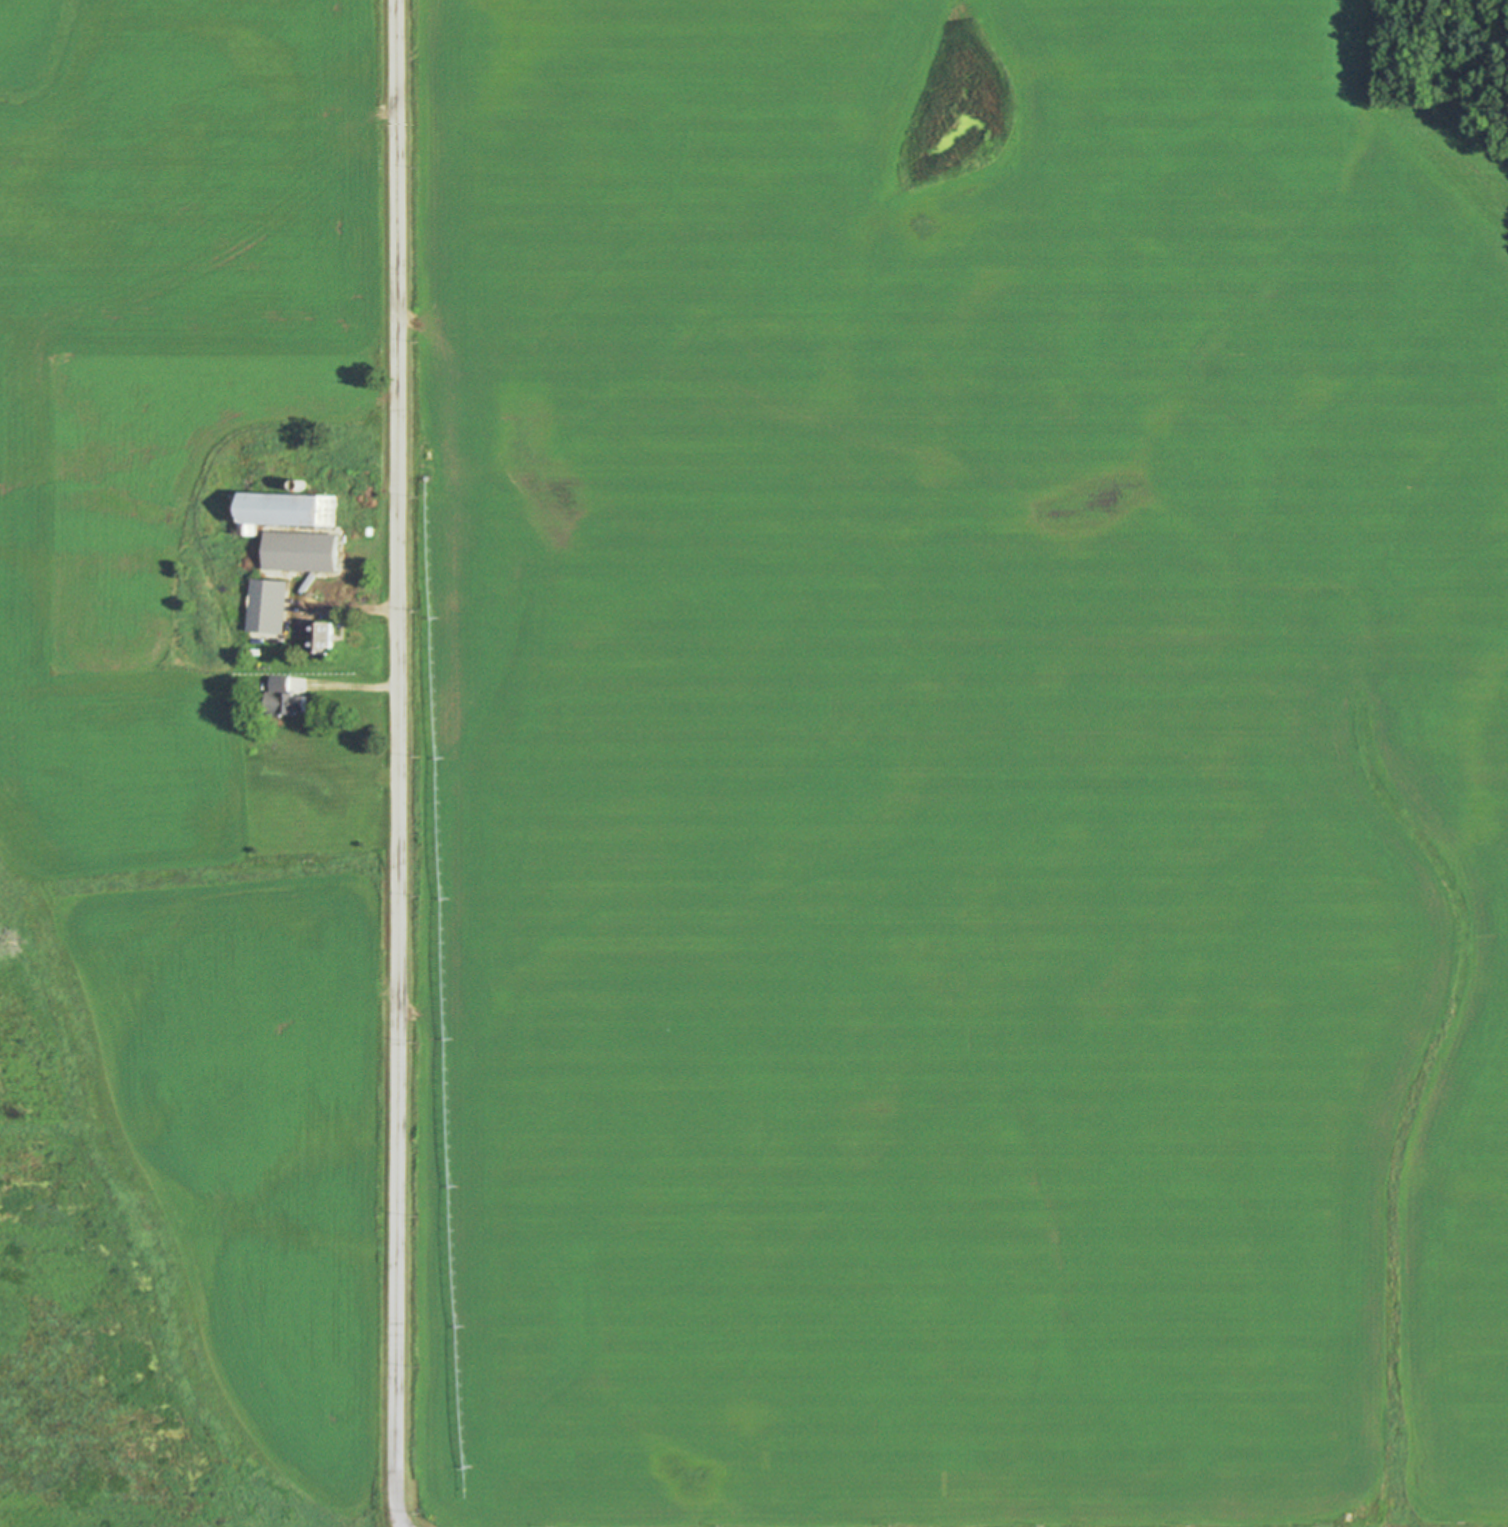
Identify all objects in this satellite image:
building: (306, 484)
building: (294, 510)
building: (298, 553)
building: (276, 606)
building: (330, 638)
building: (289, 699)
road: (395, 764)

